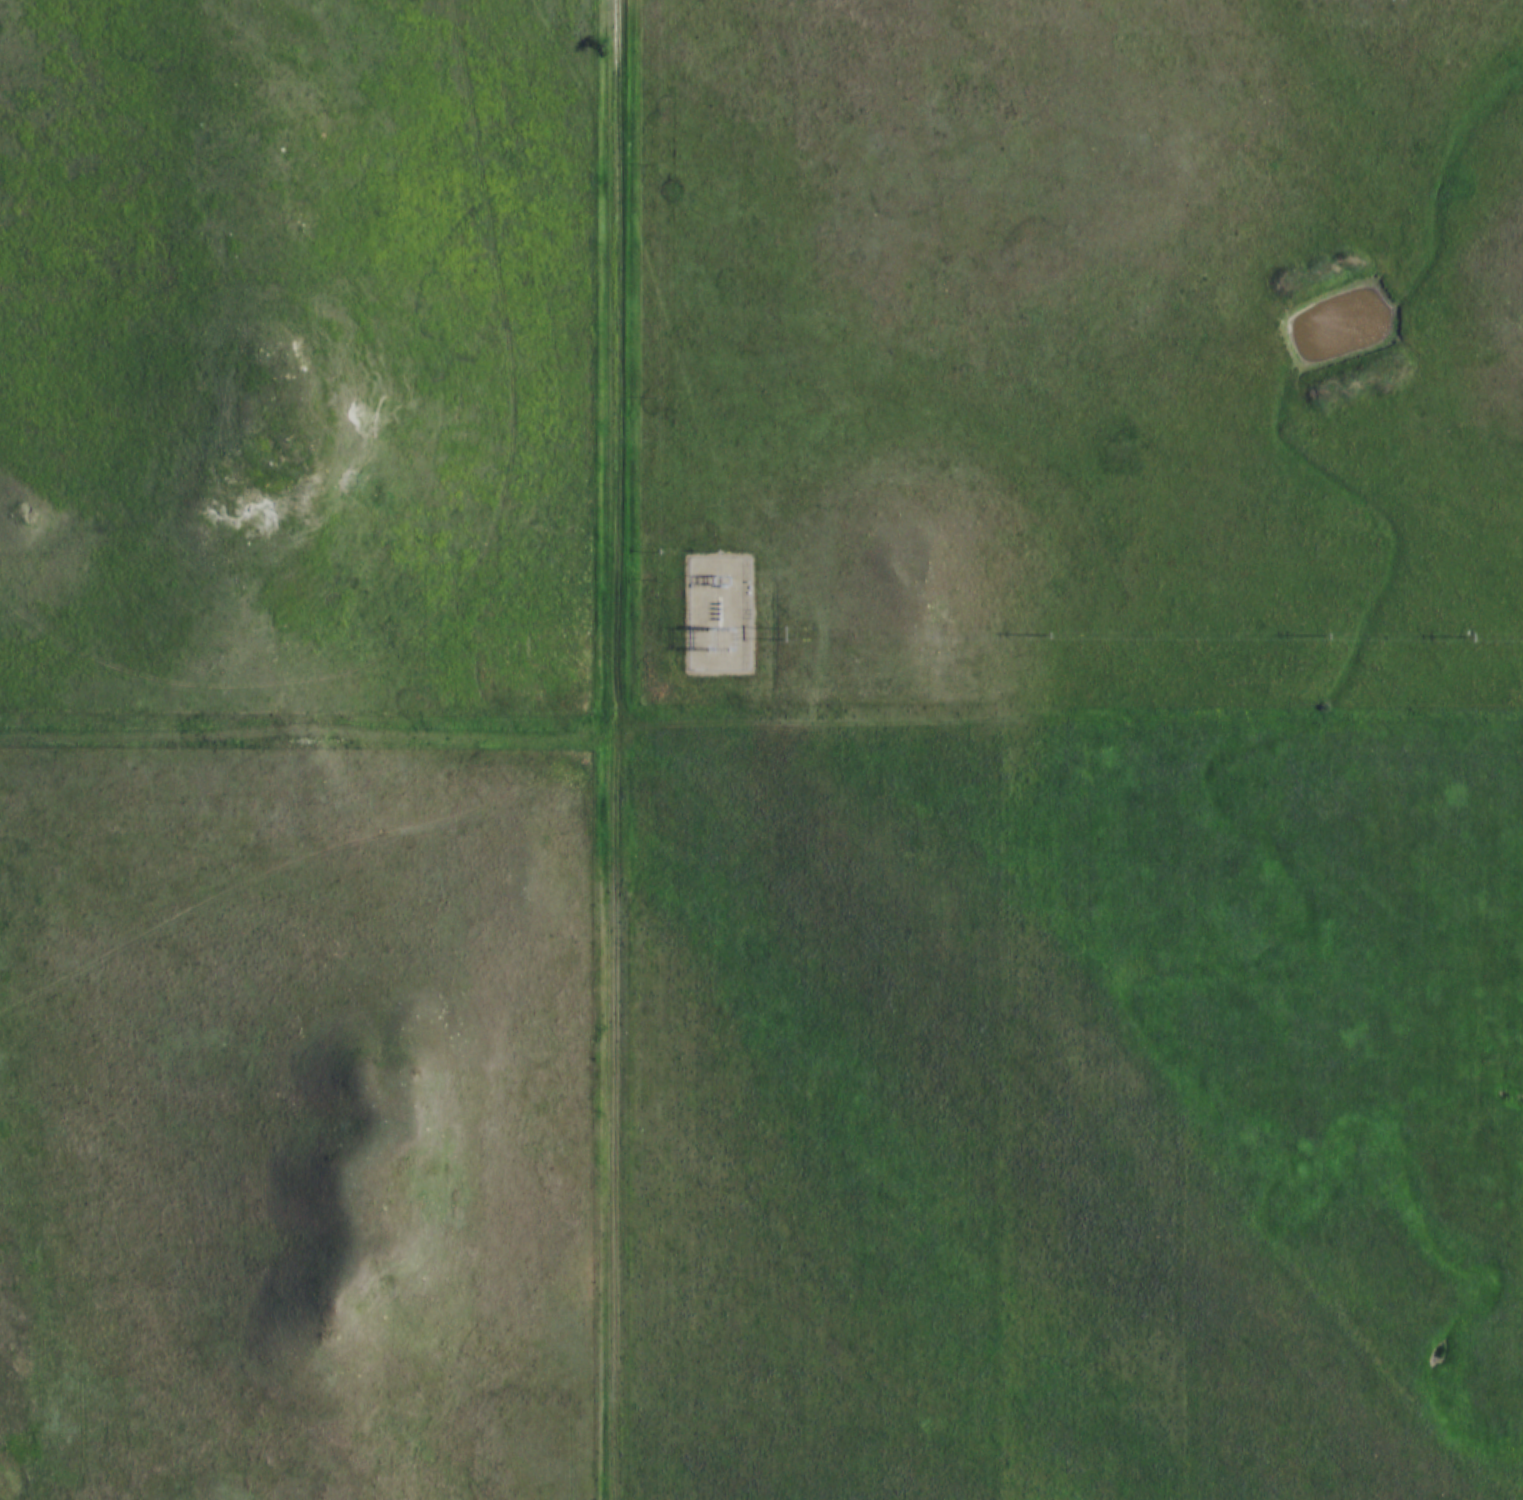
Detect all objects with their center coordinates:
power substation: (709, 611)
road: (761, 719)
road: (607, 749)

